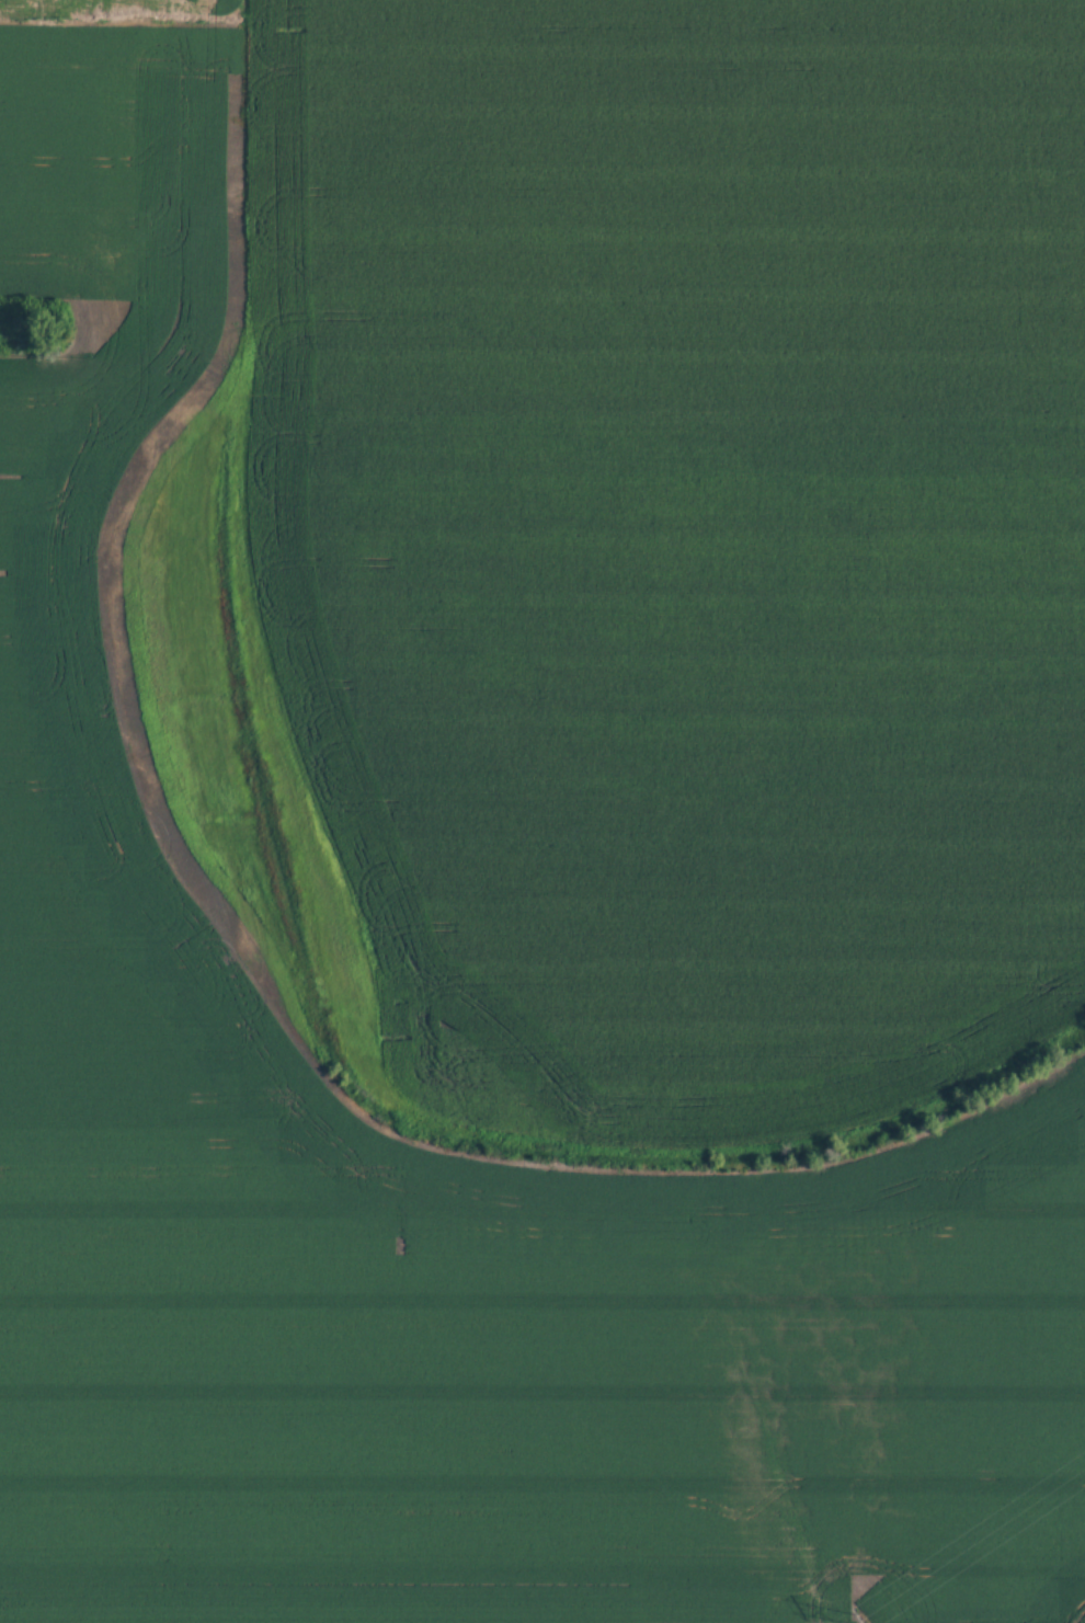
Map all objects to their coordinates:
power tower: (861, 1616)

